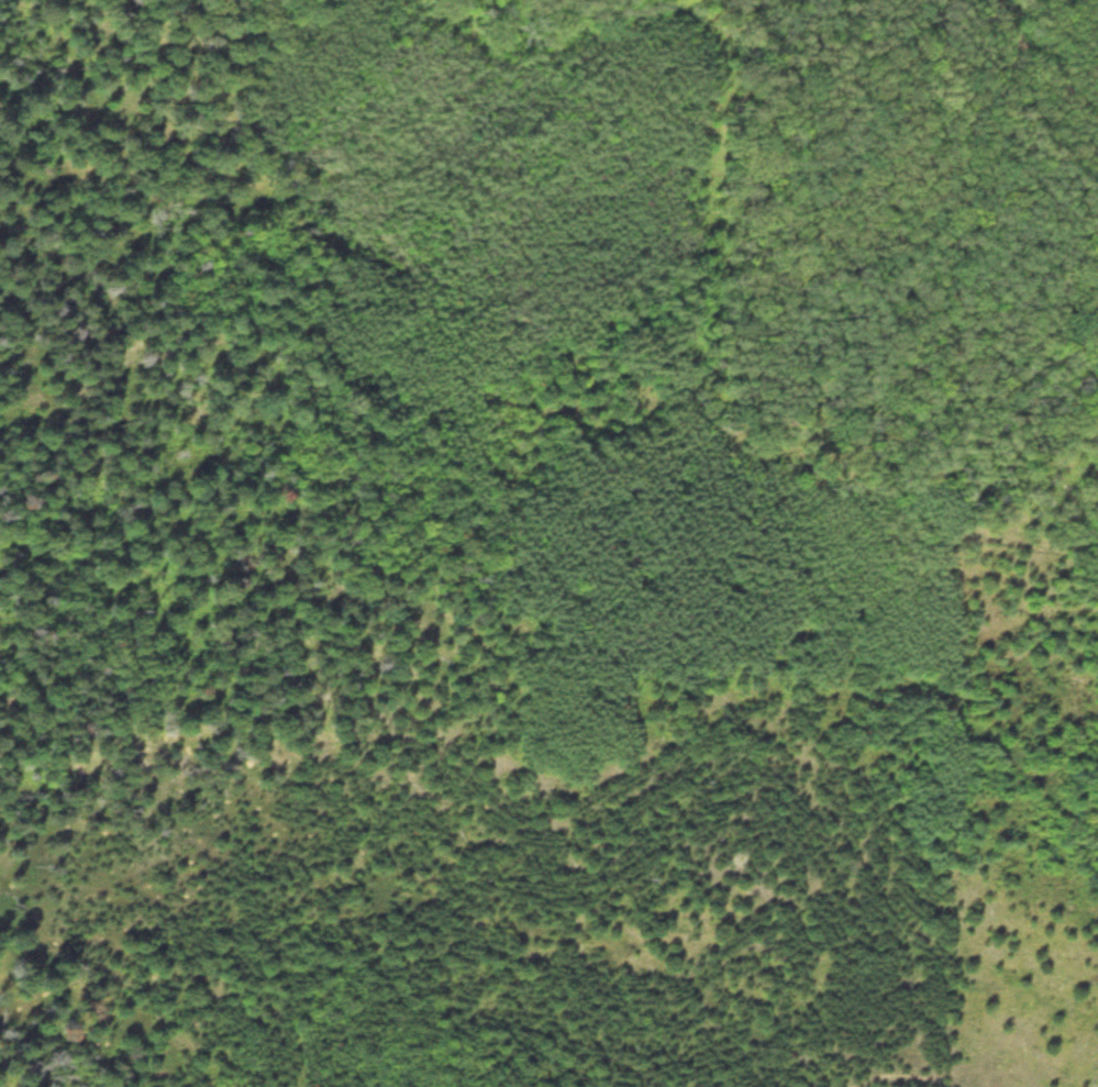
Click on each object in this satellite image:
road: (1049, 65)
road: (901, 1083)

